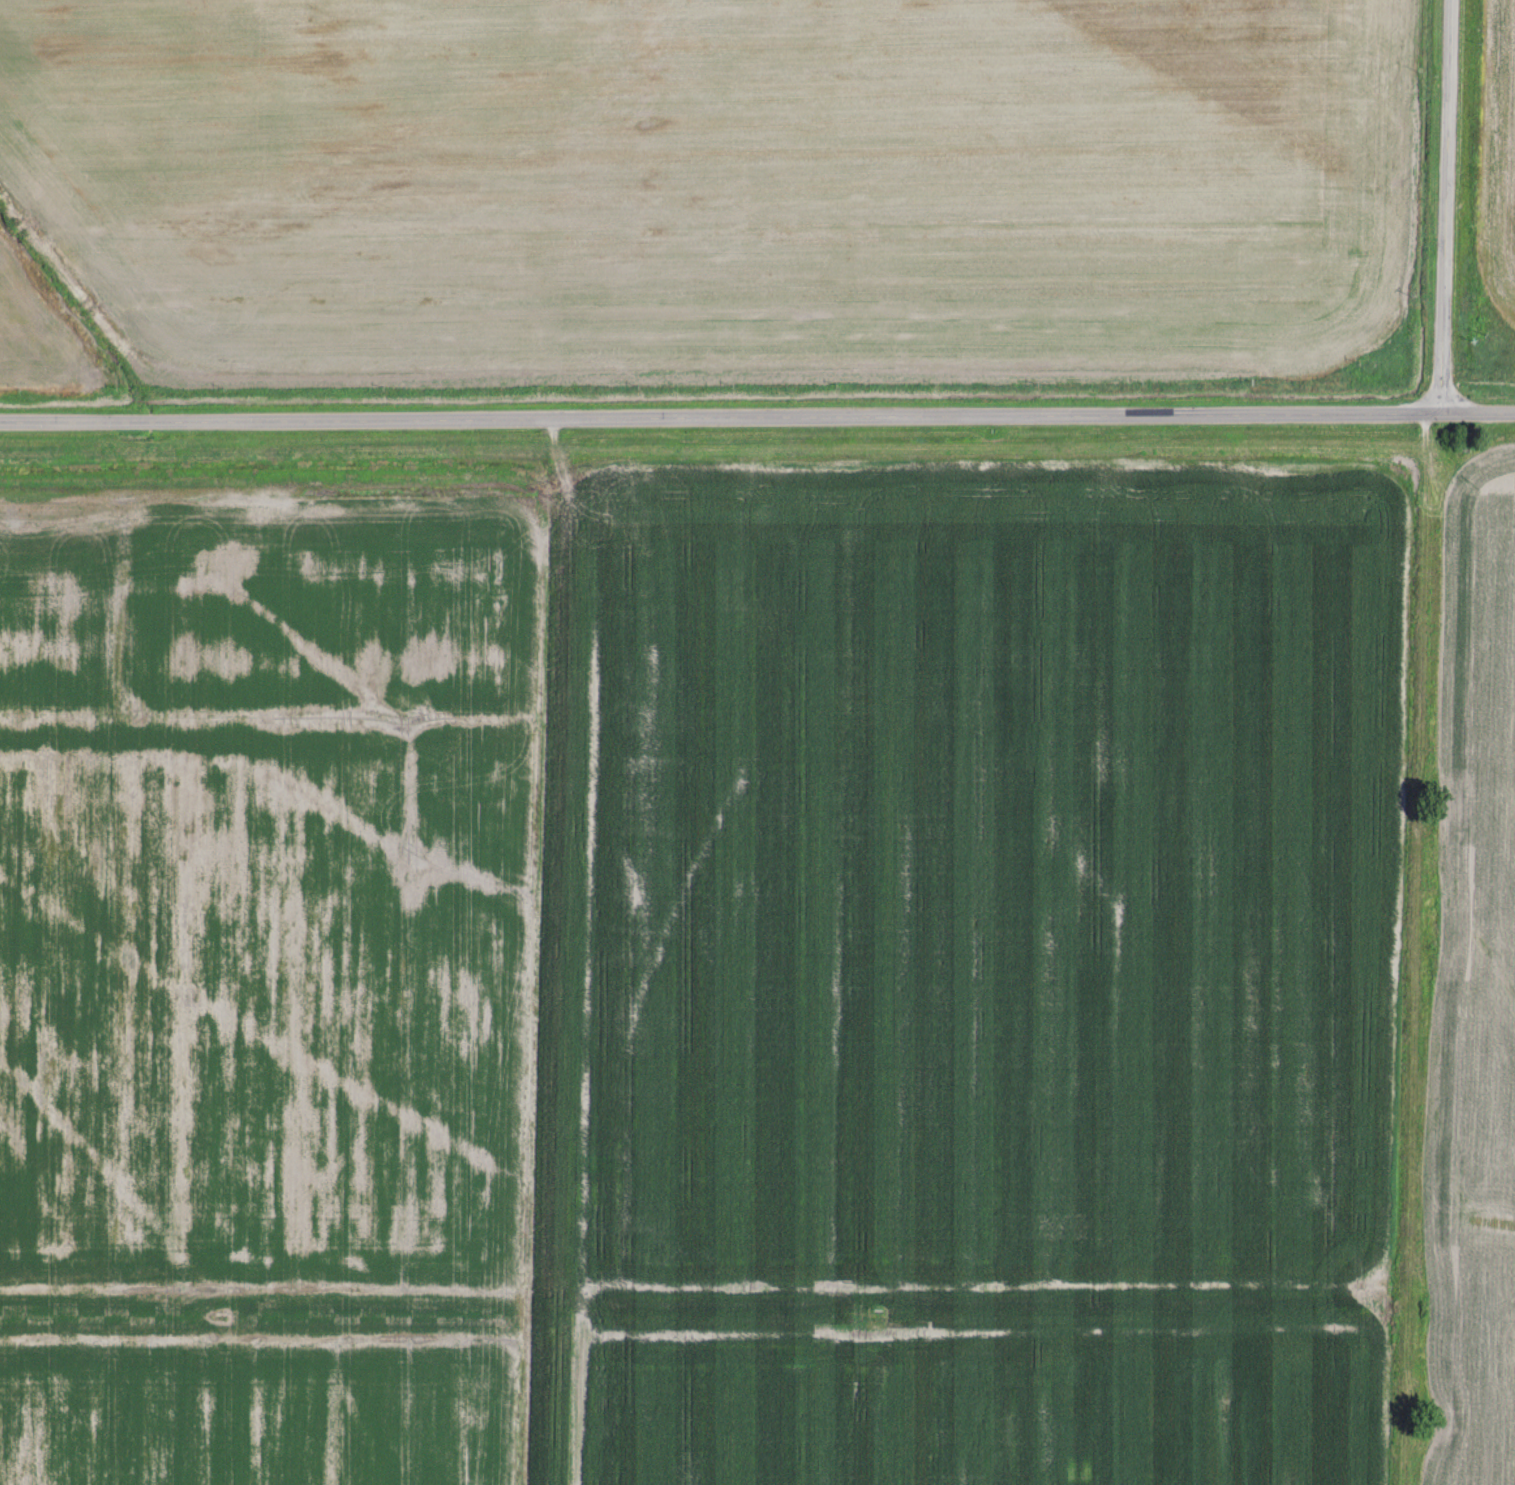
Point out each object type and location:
road: (1444, 207)
road: (757, 417)

